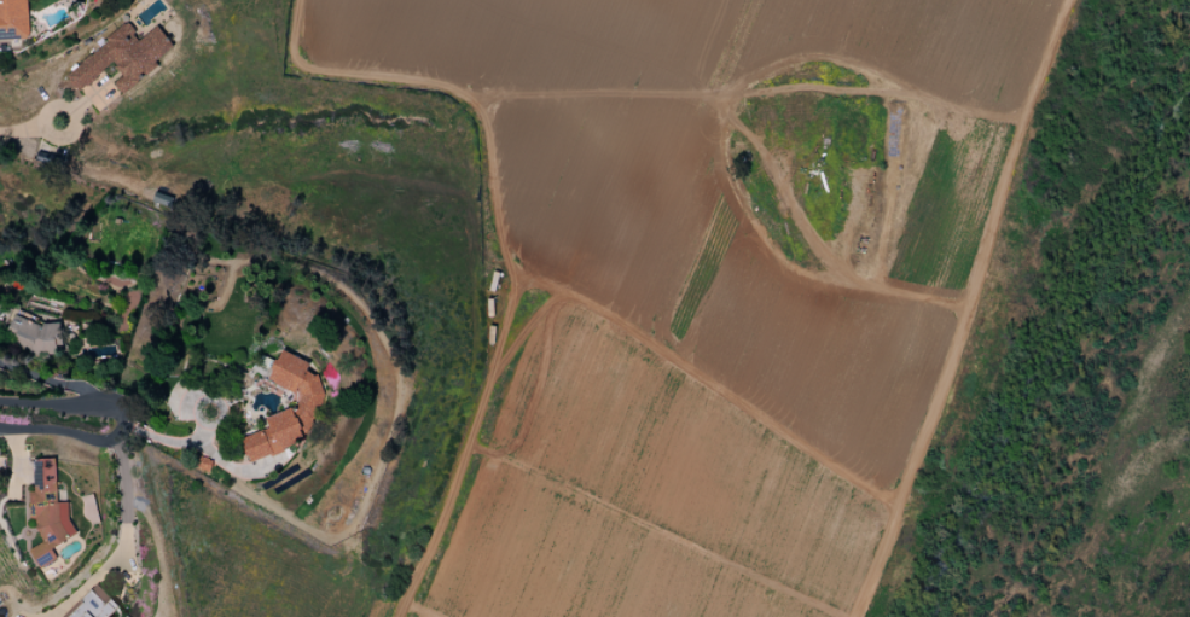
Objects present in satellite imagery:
building: (12, 19)
building: (122, 58)
road: (30, 128)
road: (965, 298)
building: (31, 336)
park: (1070, 360)
building: (288, 409)
road: (127, 420)
road: (910, 462)
building: (47, 512)
road: (126, 543)
building: (93, 605)

